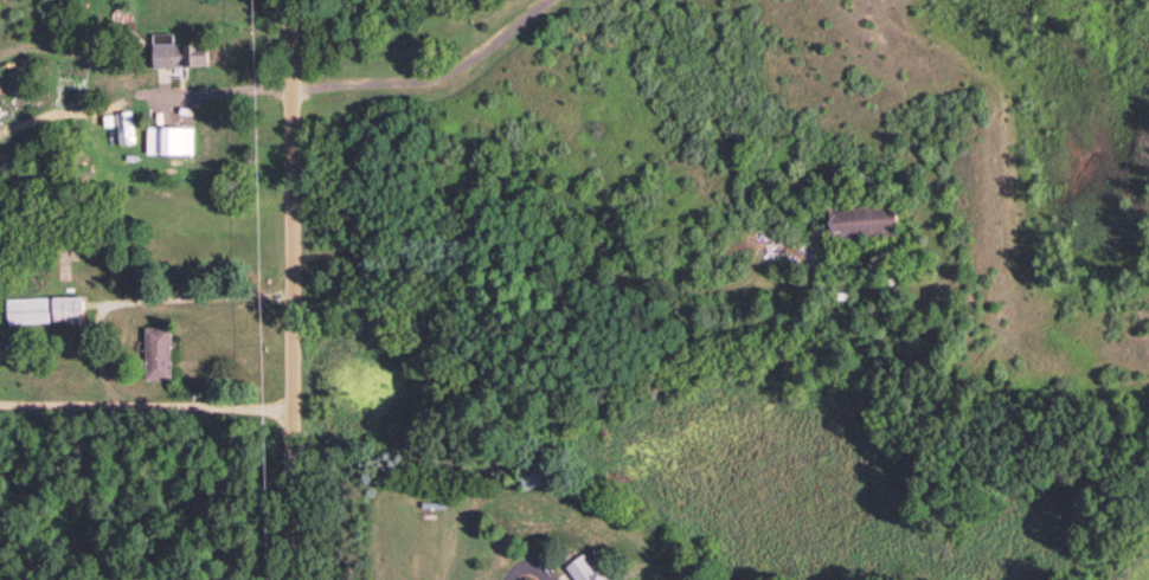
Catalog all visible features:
road: (421, 75)
road: (219, 90)
building: (123, 125)
building: (168, 138)
building: (864, 219)
road: (289, 289)
road: (194, 297)
building: (44, 308)
building: (158, 352)
road: (147, 410)
building: (532, 470)
road: (525, 562)
building: (588, 571)

